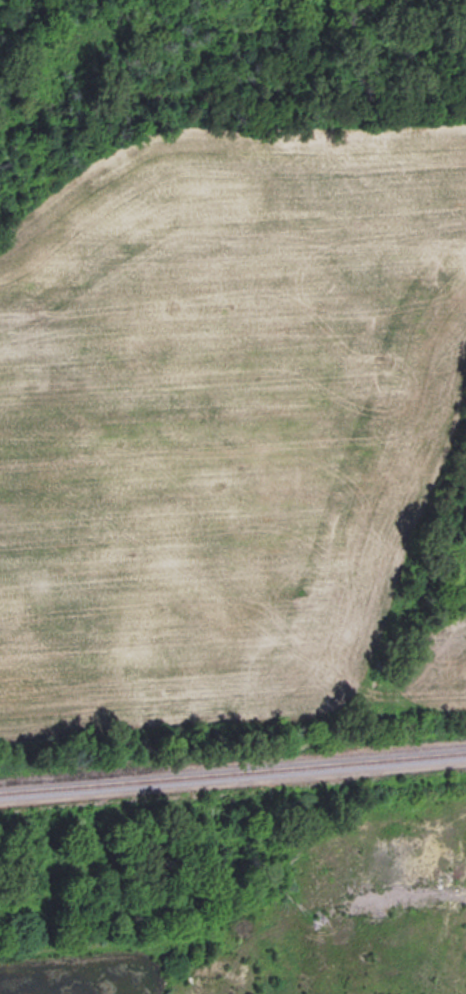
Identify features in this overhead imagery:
railway: (233, 771)

